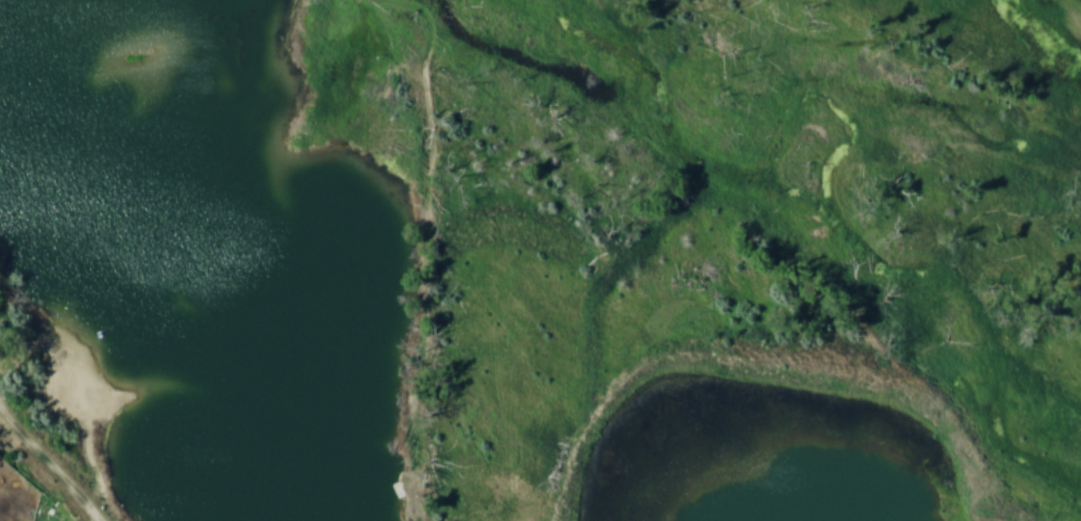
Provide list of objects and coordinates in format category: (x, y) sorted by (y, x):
road: (57, 461)

